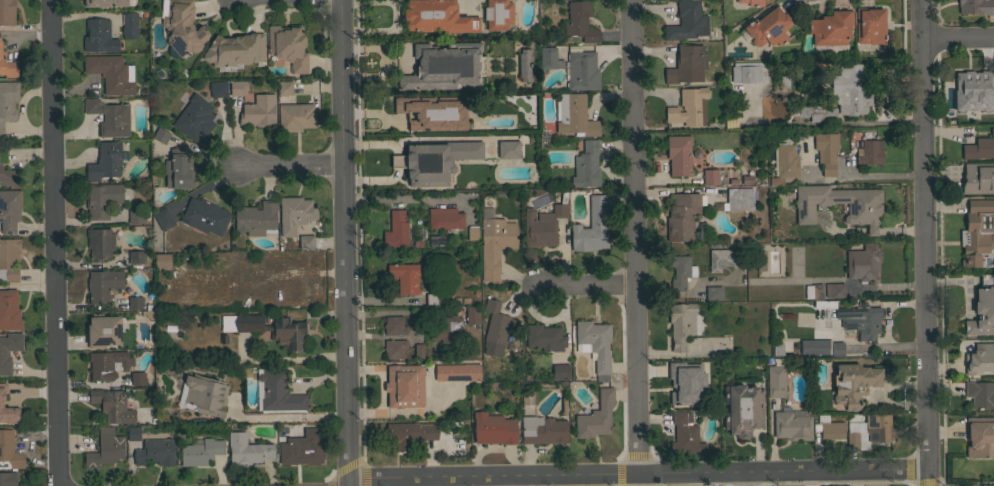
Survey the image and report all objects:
building: (751, 2)
building: (105, 3)
building: (976, 6)
building: (7, 12)
building: (498, 14)
building: (437, 17)
building: (579, 21)
building: (687, 21)
building: (129, 25)
building: (870, 25)
building: (182, 27)
building: (769, 28)
building: (831, 28)
building: (99, 36)
road: (959, 40)
building: (288, 46)
building: (235, 49)
building: (549, 58)
building: (686, 62)
building: (519, 65)
building: (7, 67)
building: (582, 71)
building: (751, 72)
building: (111, 73)
building: (783, 80)
building: (974, 85)
building: (237, 87)
building: (285, 87)
building: (218, 88)
building: (850, 89)
building: (8, 101)
building: (429, 102)
building: (689, 107)
building: (258, 111)
building: (815, 113)
building: (968, 114)
building: (574, 115)
building: (109, 117)
building: (295, 117)
building: (194, 118)
building: (395, 118)
road: (823, 123)
building: (161, 135)
building: (979, 148)
building: (506, 149)
building: (826, 152)
building: (869, 152)
building: (679, 155)
building: (105, 161)
building: (435, 161)
building: (391, 162)
building: (784, 163)
building: (586, 166)
road: (291, 168)
building: (178, 169)
building: (8, 176)
building: (710, 177)
building: (978, 178)
building: (745, 180)
building: (101, 199)
building: (739, 200)
building: (9, 210)
building: (864, 210)
building: (295, 213)
building: (483, 213)
building: (135, 216)
building: (204, 216)
building: (682, 217)
building: (163, 218)
building: (256, 218)
building: (445, 218)
building: (544, 224)
building: (592, 227)
building: (396, 230)
building: (473, 232)
building: (978, 234)
road: (634, 236)
building: (437, 240)
building: (304, 242)
road: (344, 242)
road: (926, 242)
road: (52, 243)
building: (100, 243)
building: (495, 245)
building: (9, 257)
building: (136, 257)
building: (724, 259)
building: (758, 259)
building: (162, 261)
building: (863, 263)
building: (754, 268)
building: (680, 271)
building: (405, 277)
building: (102, 285)
road: (585, 286)
building: (834, 290)
building: (812, 292)
building: (713, 293)
building: (431, 299)
building: (135, 302)
building: (824, 304)
building: (9, 309)
building: (982, 309)
building: (472, 314)
building: (802, 320)
building: (860, 320)
building: (420, 322)
building: (496, 323)
building: (683, 324)
building: (394, 325)
building: (447, 327)
building: (268, 328)
building: (102, 332)
building: (544, 338)
building: (595, 344)
building: (778, 346)
building: (821, 347)
building: (395, 348)
building: (418, 350)
building: (3, 353)
building: (174, 356)
building: (979, 358)
building: (108, 364)
building: (560, 371)
building: (457, 372)
building: (137, 378)
building: (776, 378)
building: (856, 383)
building: (404, 386)
building: (681, 386)
building: (279, 392)
building: (980, 394)
building: (205, 395)
building: (528, 397)
building: (112, 405)
building: (10, 407)
building: (742, 409)
building: (596, 415)
road: (287, 420)
building: (792, 424)
building: (829, 428)
building: (879, 428)
building: (494, 429)
building: (543, 429)
building: (133, 433)
building: (410, 433)
building: (684, 434)
building: (980, 437)
building: (852, 440)
building: (289, 446)
building: (105, 448)
building: (247, 449)
building: (9, 451)
building: (155, 452)
building: (201, 452)
road: (637, 473)
building: (8, 478)
road: (638, 478)
road: (743, 478)
road: (512, 480)
road: (345, 485)
road: (636, 485)
road: (639, 485)
building: (979, 485)

